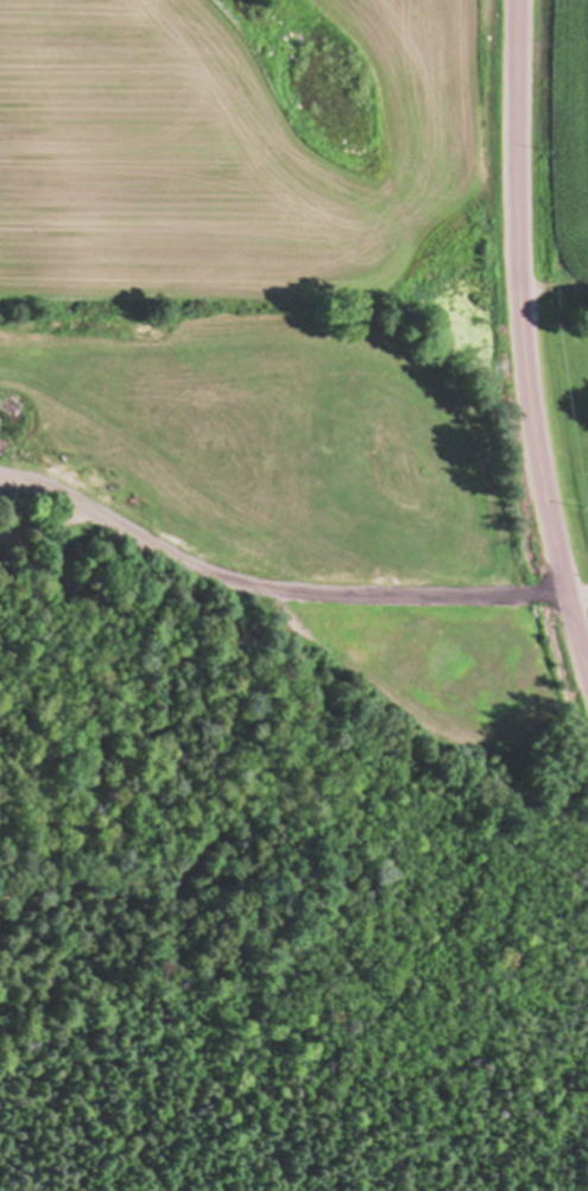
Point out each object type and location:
road: (525, 332)

